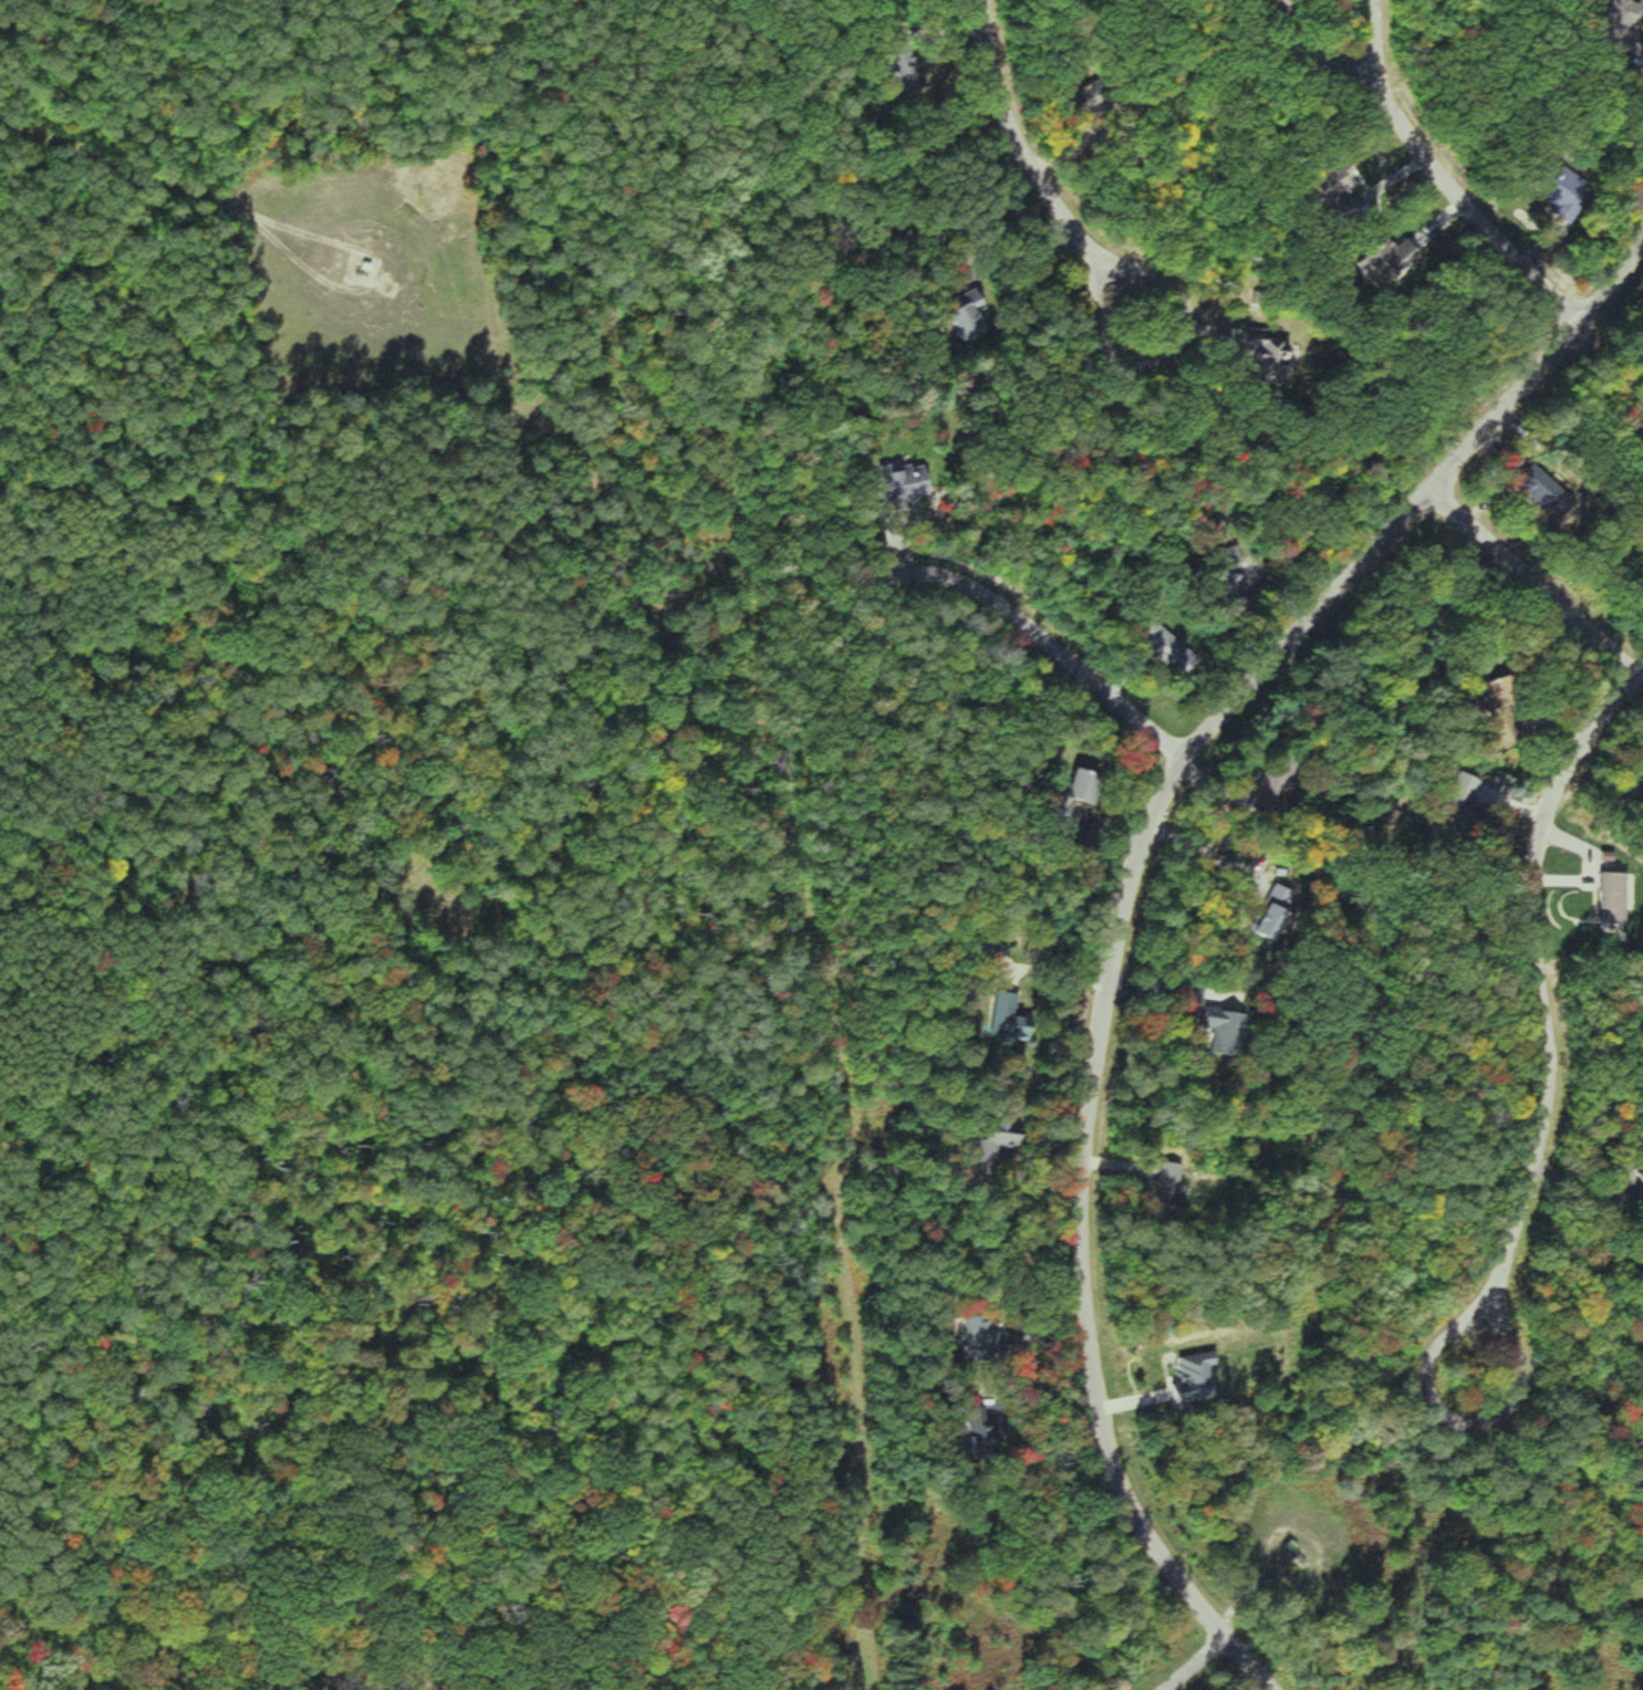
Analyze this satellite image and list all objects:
road: (1372, 41)
road: (1311, 54)
building: (922, 74)
road: (1013, 142)
road: (153, 178)
building: (1340, 184)
road: (1469, 218)
building: (1403, 253)
petroleum well: (364, 273)
building: (974, 317)
road: (1162, 346)
building: (1273, 351)
road: (1535, 384)
building: (1539, 484)
building: (911, 487)
road: (1533, 585)
road: (1047, 641)
building: (1172, 653)
building: (1092, 785)
building: (1272, 794)
road: (1594, 858)
road: (1539, 987)
building: (1013, 1016)
road: (1095, 1063)
building: (998, 1143)
building: (1642, 1173)
building: (1174, 1189)
building: (986, 1336)
building: (1197, 1379)
road: (1468, 1422)
building: (994, 1440)
building: (1300, 1555)
road: (1194, 1662)

